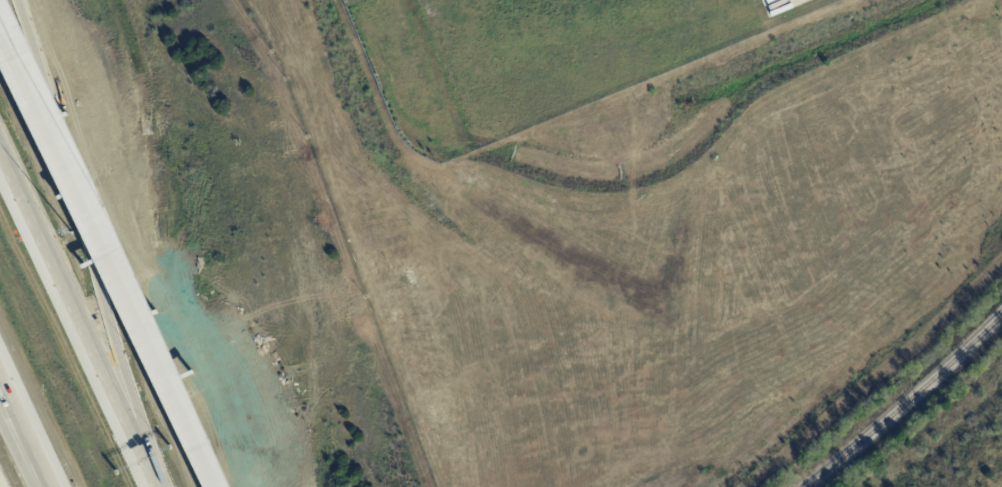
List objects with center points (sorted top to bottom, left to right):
road: (88, 242)
road: (106, 262)
road: (77, 324)
railway: (907, 405)
road: (23, 435)
road: (20, 451)

